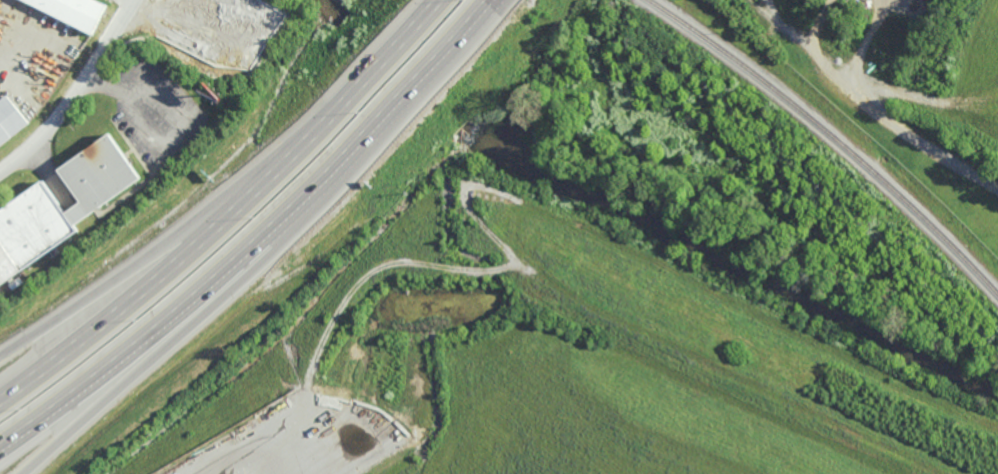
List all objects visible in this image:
road: (128, 3)
building: (75, 10)
road: (866, 42)
road: (815, 44)
road: (76, 91)
road: (393, 103)
building: (10, 120)
railway: (832, 135)
road: (918, 140)
road: (232, 212)
building: (33, 231)
road: (114, 280)
road: (154, 332)
road: (174, 347)
road: (239, 458)

